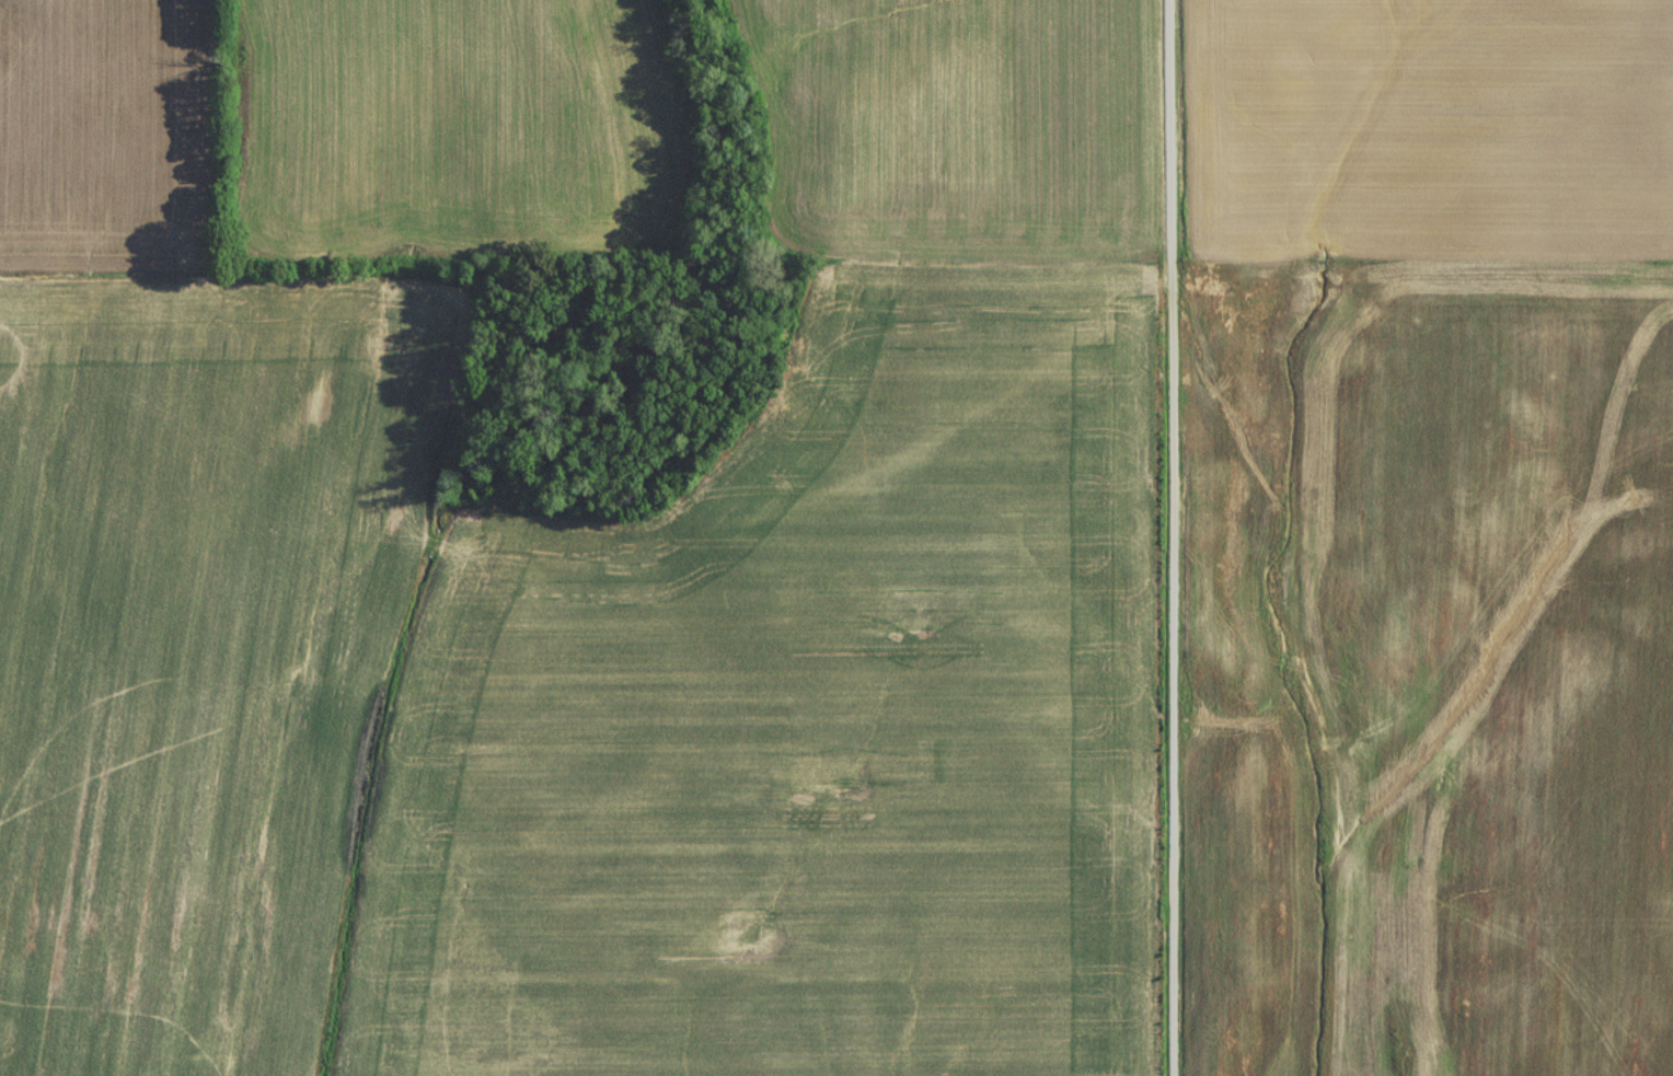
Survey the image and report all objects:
road: (1175, 537)

